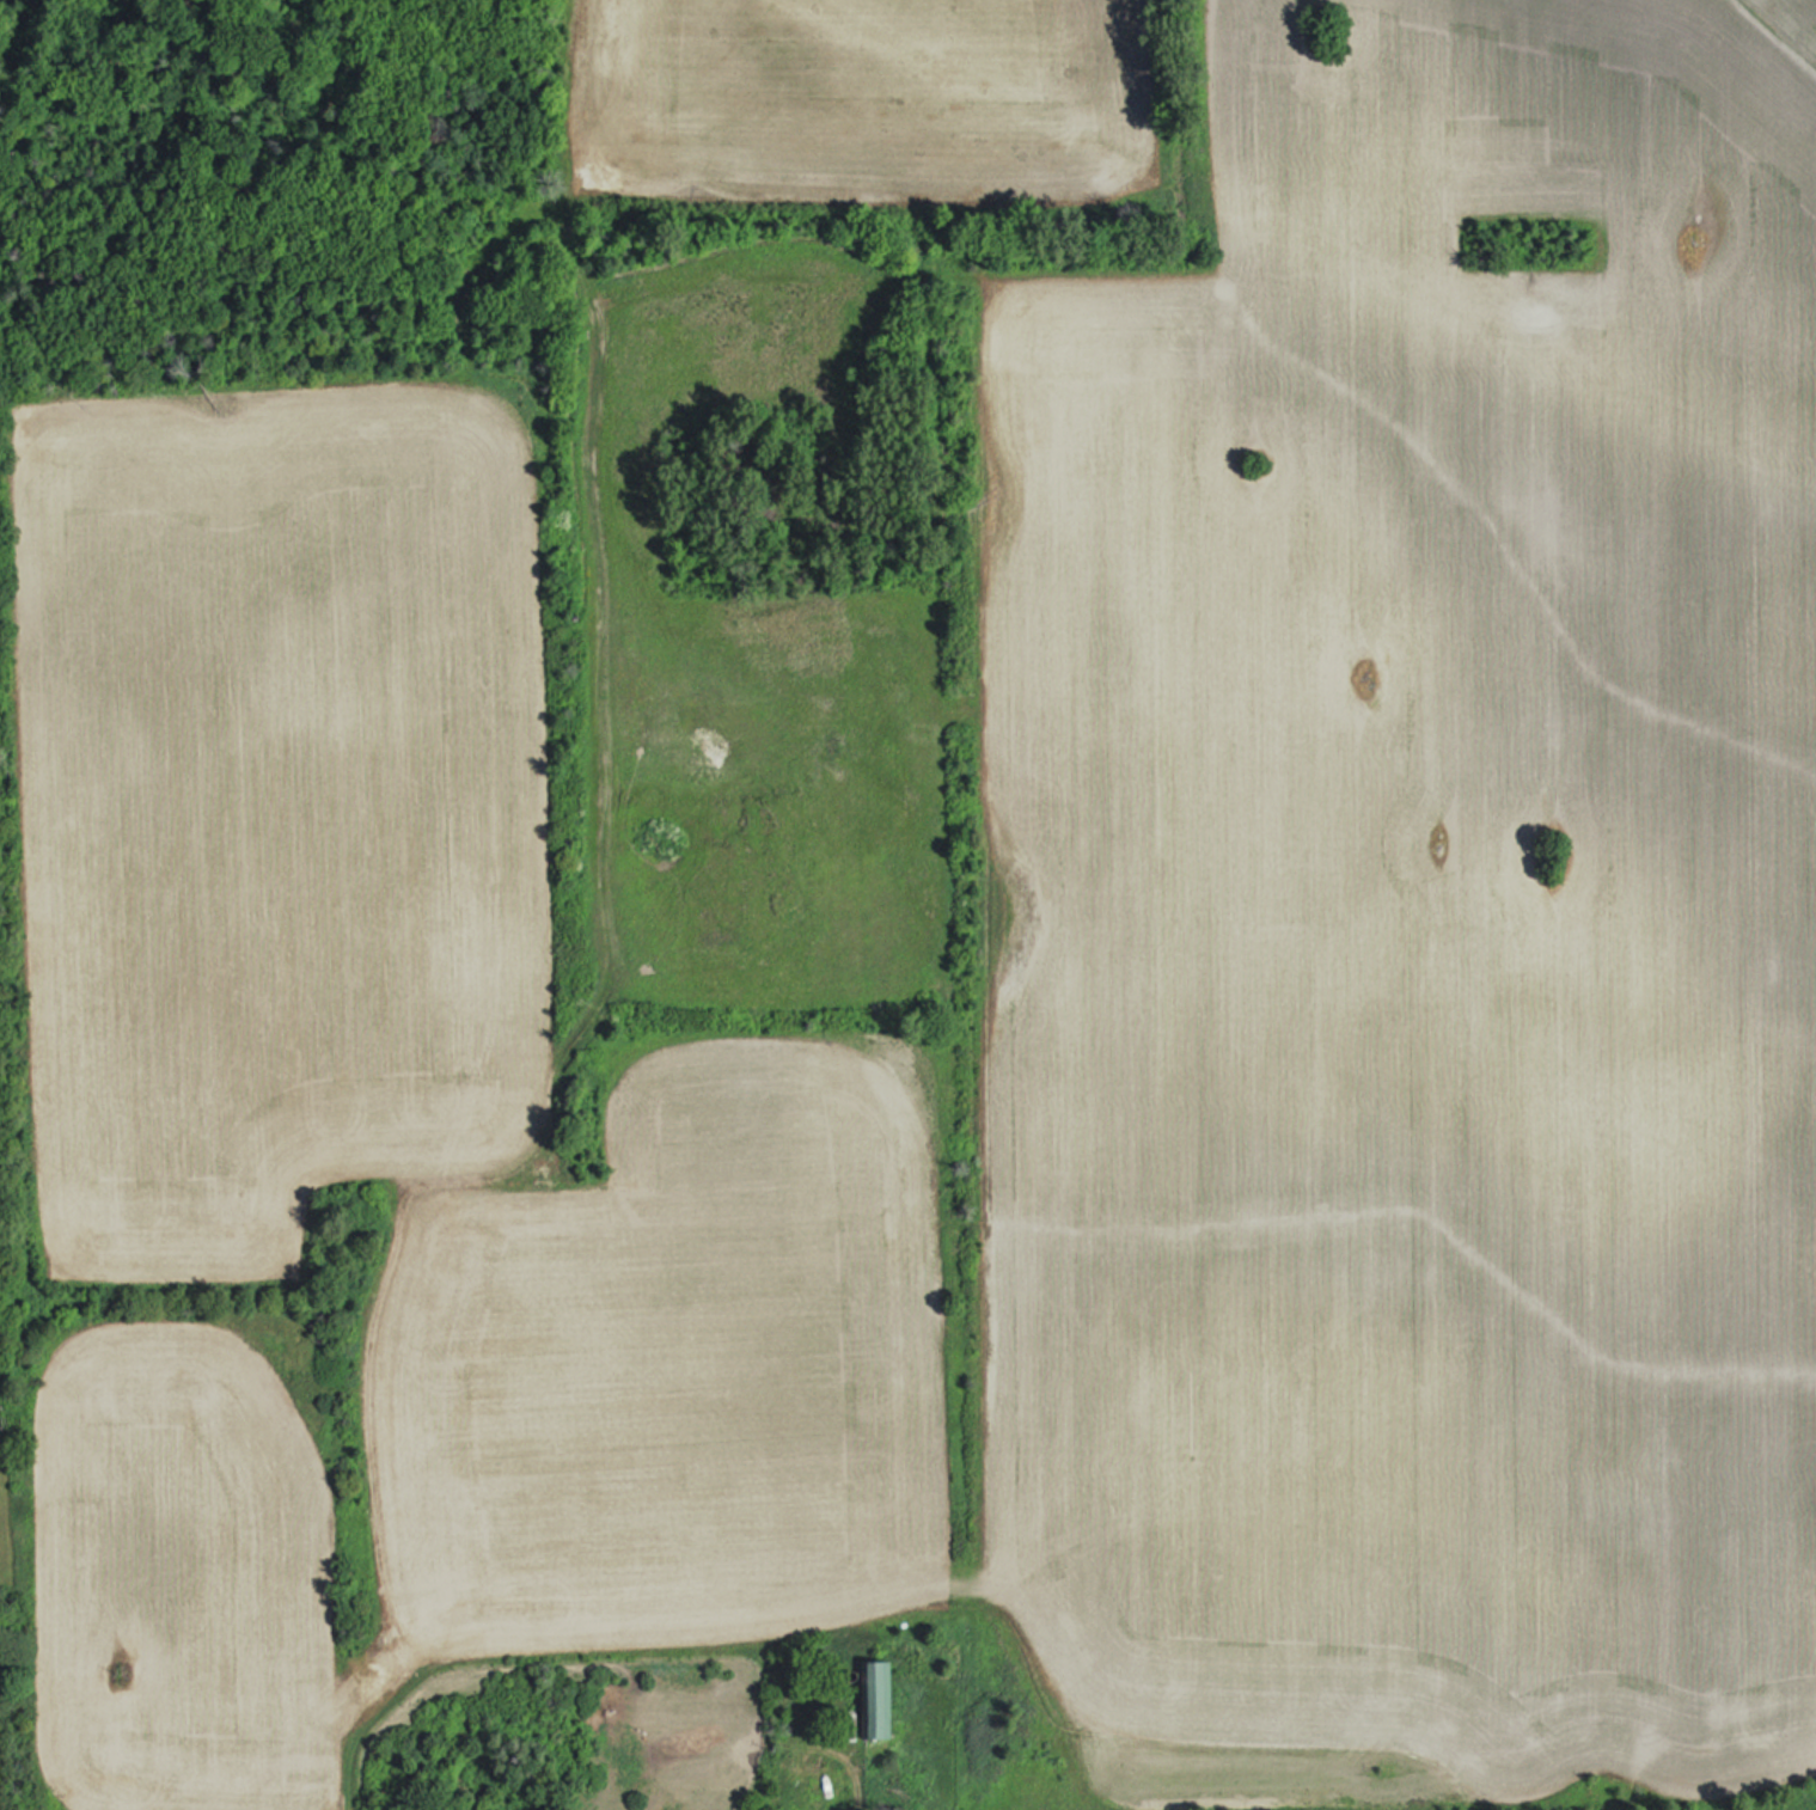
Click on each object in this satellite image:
building: (878, 1700)
building: (818, 1791)

